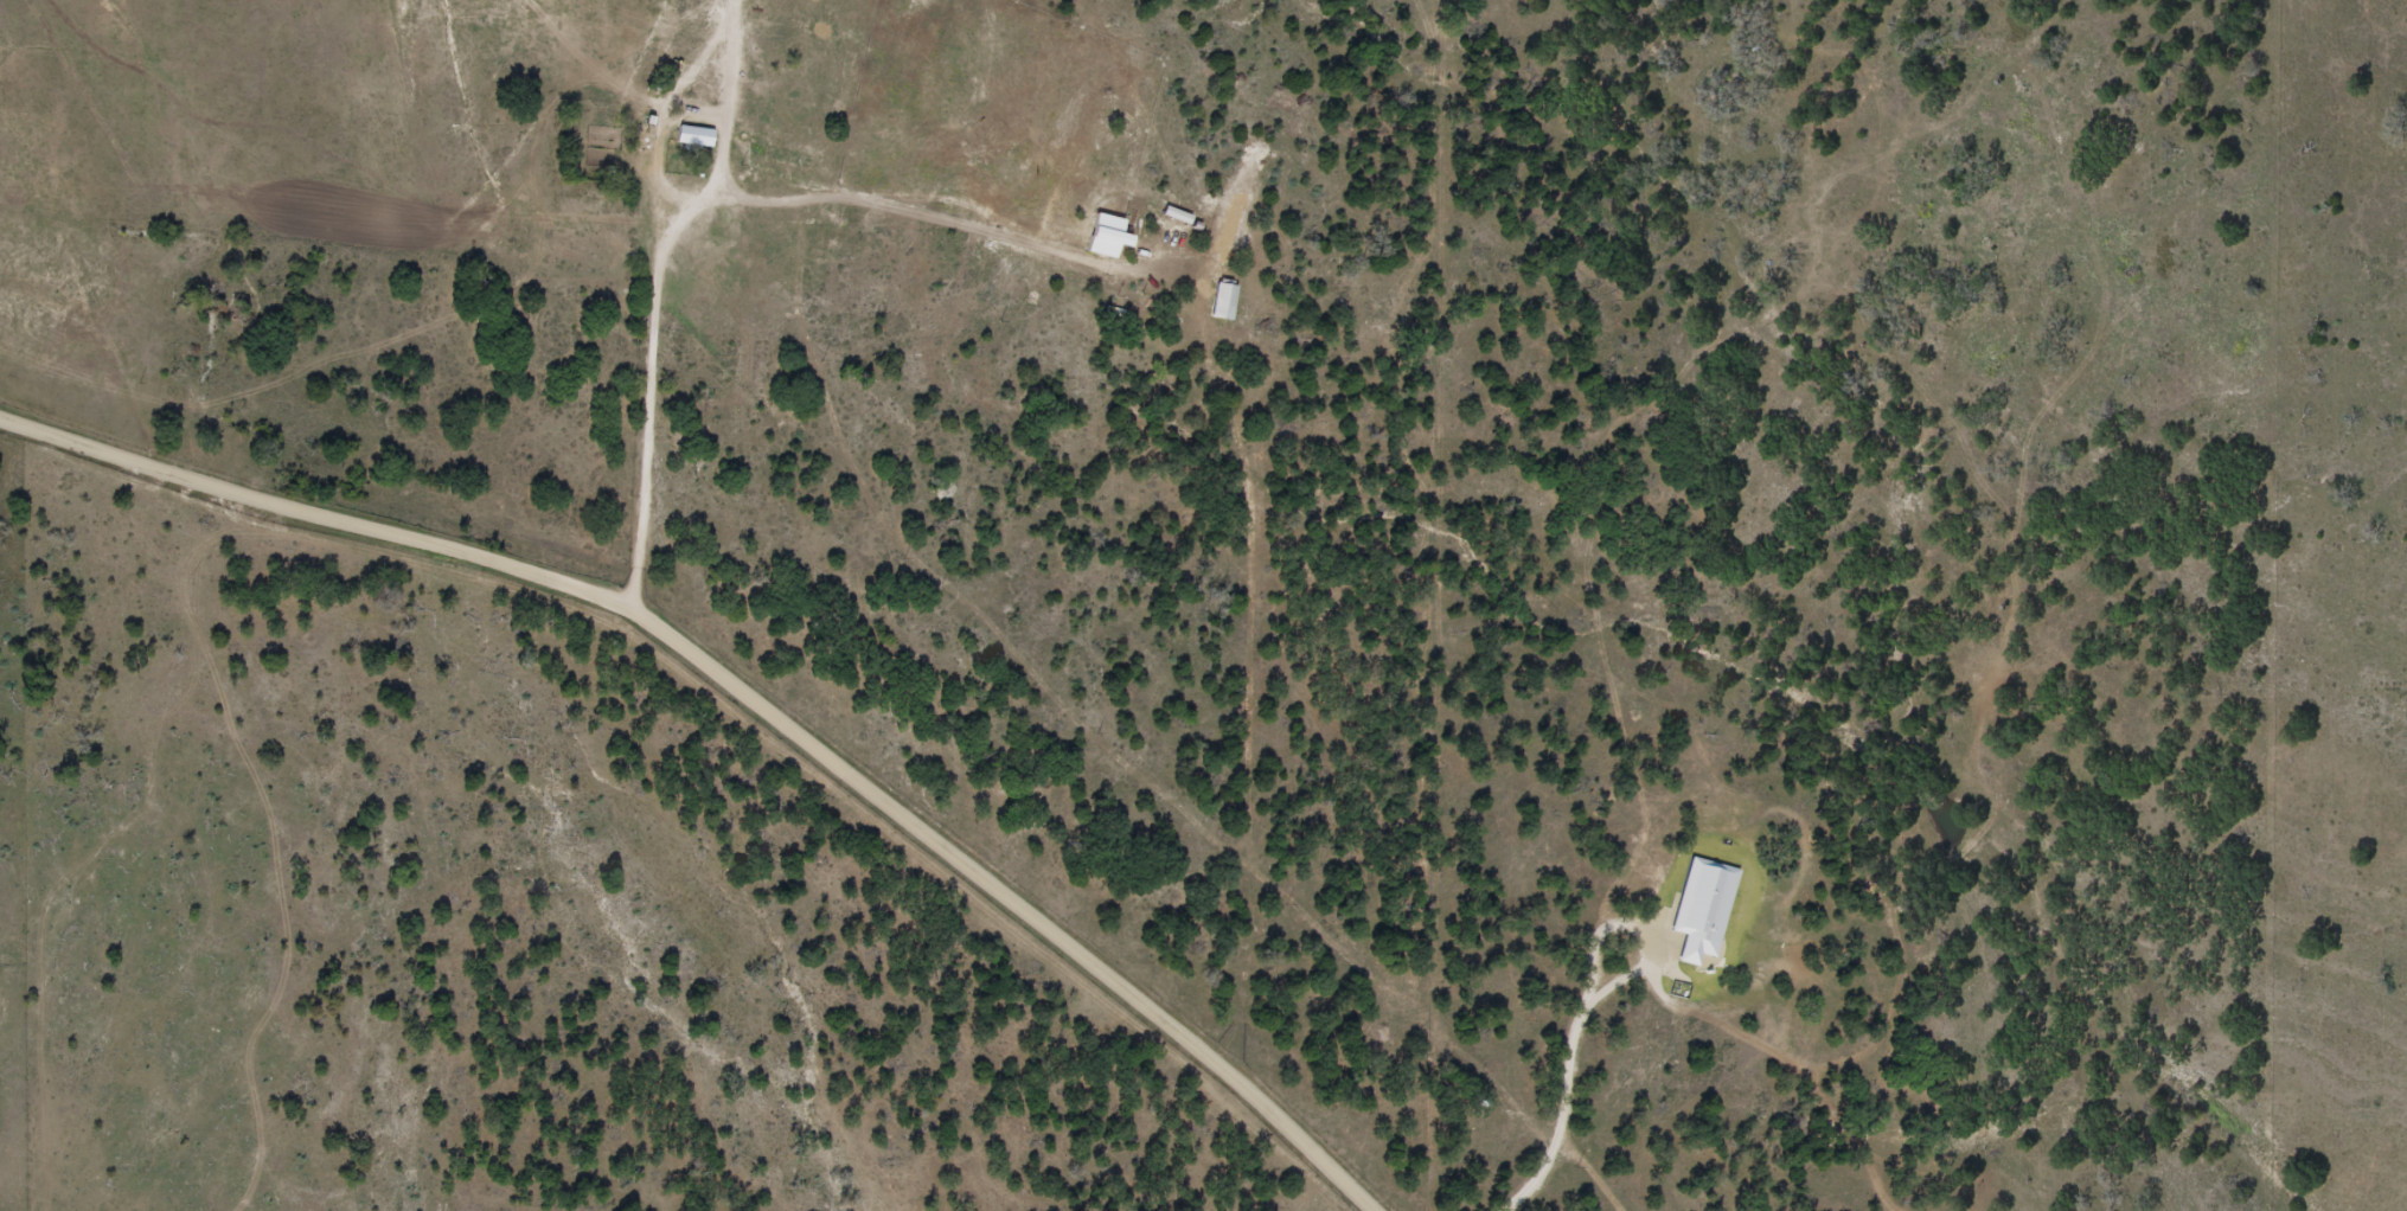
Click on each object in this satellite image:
road: (640, 454)
road: (700, 756)

